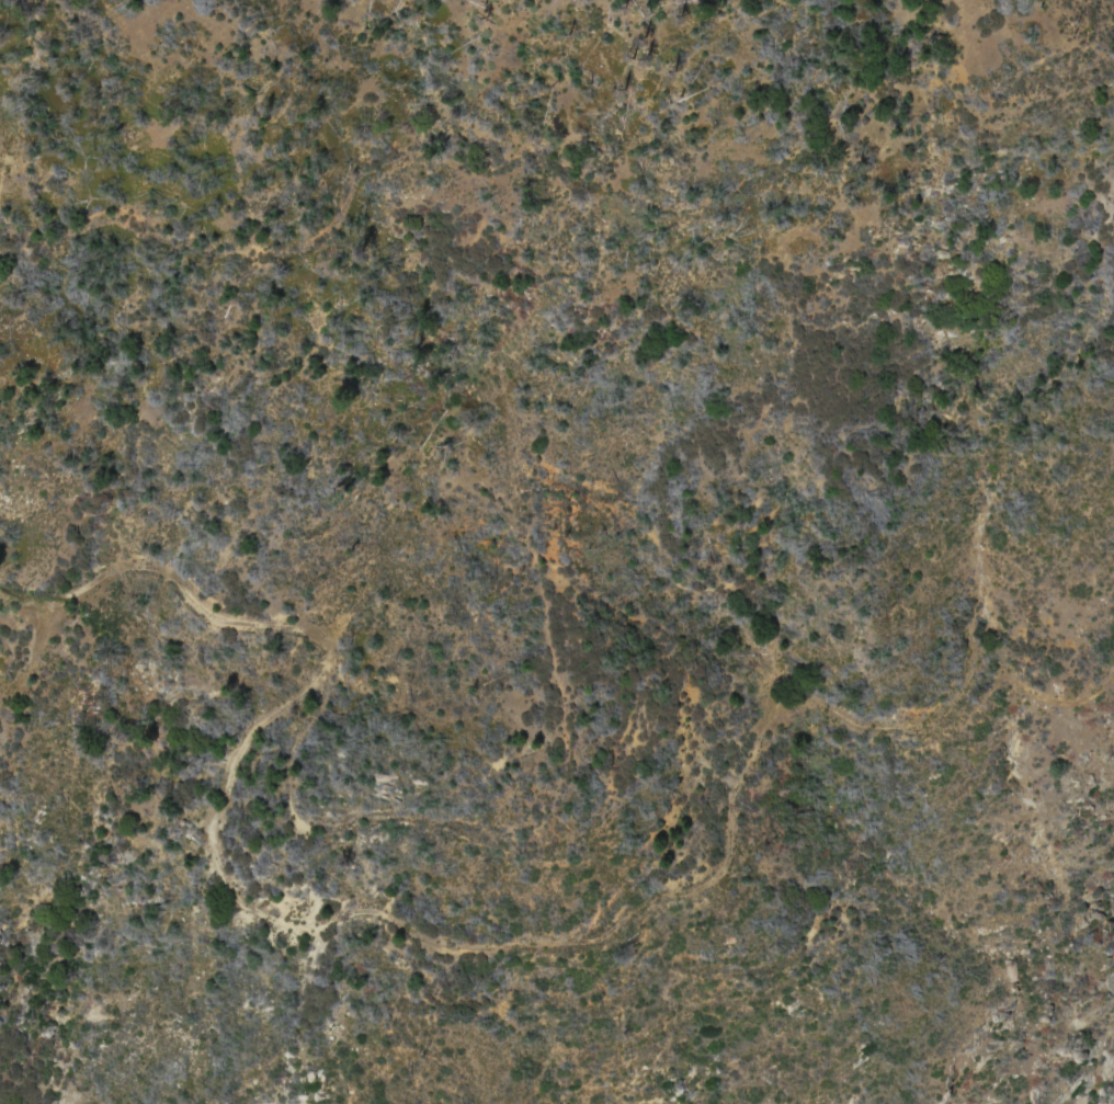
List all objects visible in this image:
road: (232, 816)

